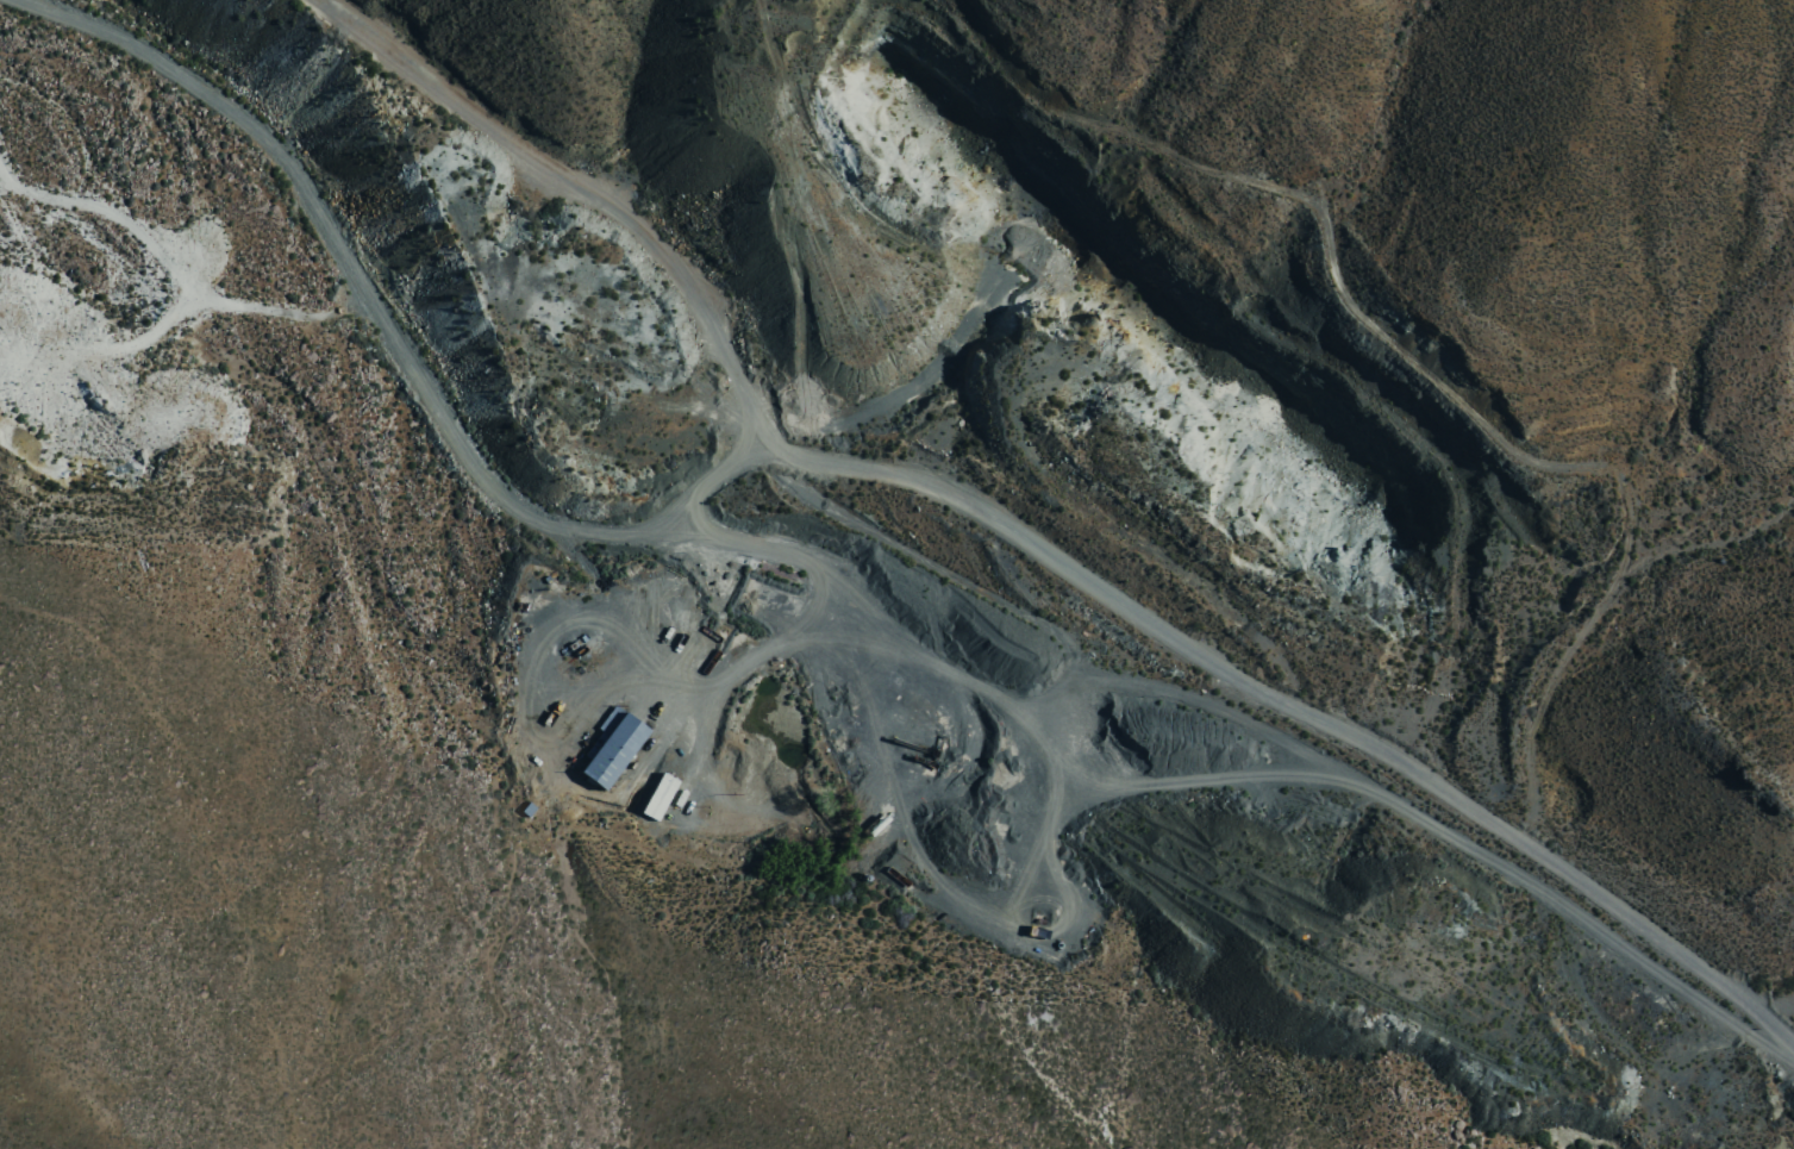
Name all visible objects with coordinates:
road: (737, 377)
road: (863, 468)
quarry: (1027, 600)
building: (613, 747)
road: (1774, 1001)

